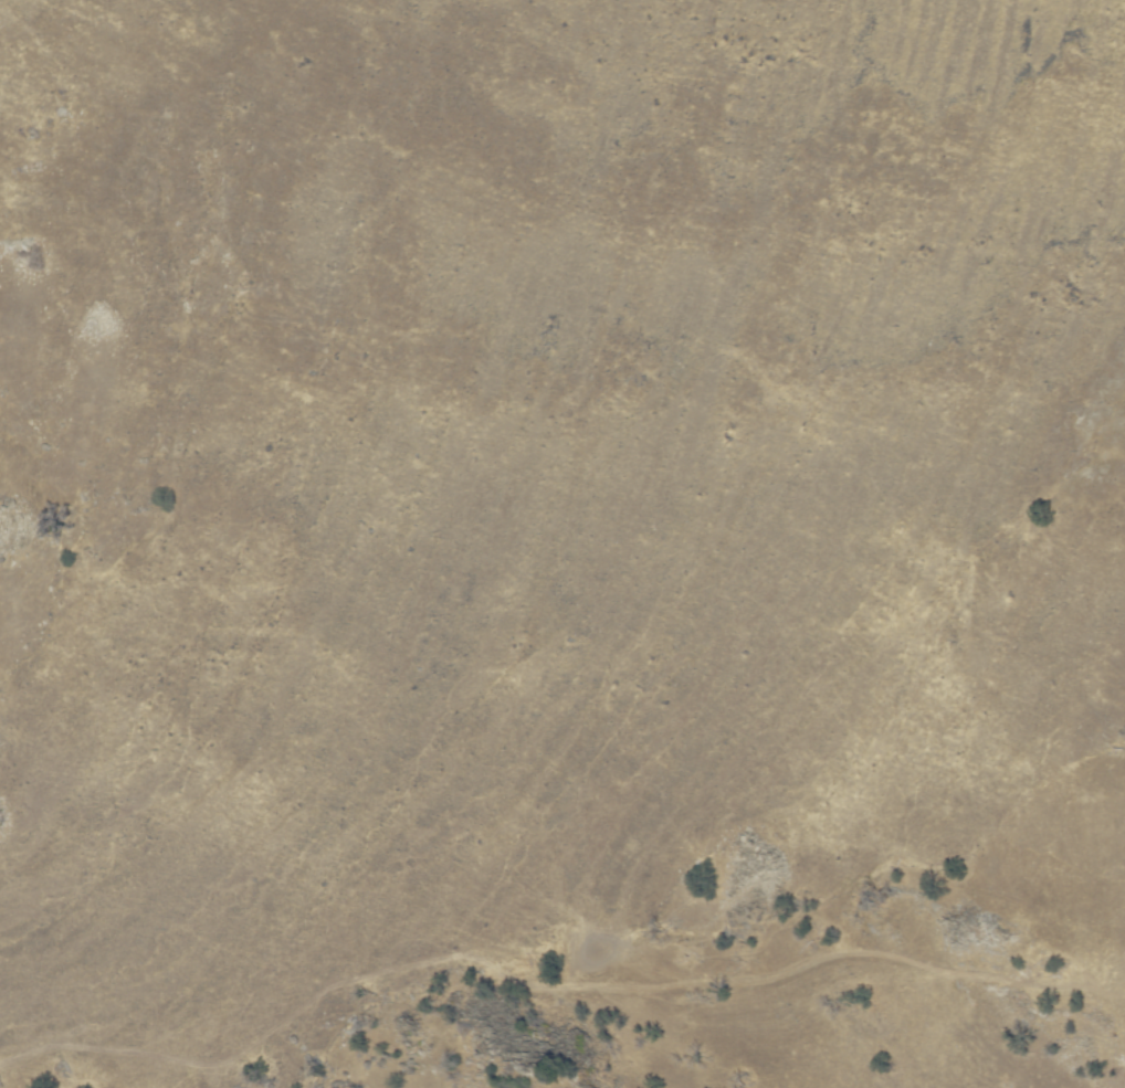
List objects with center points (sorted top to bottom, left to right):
crop: (83, 926)
road: (546, 976)

